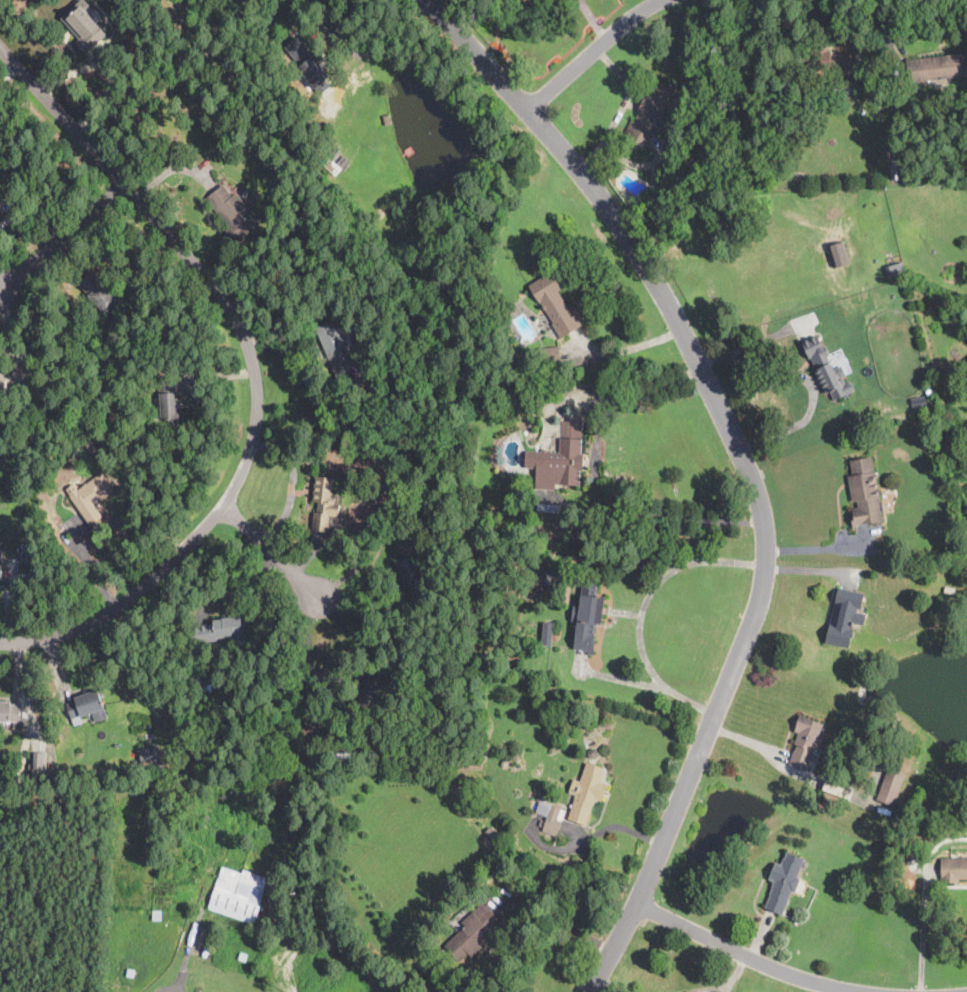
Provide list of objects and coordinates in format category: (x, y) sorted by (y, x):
building: (84, 26)
road: (379, 41)
road: (594, 53)
road: (476, 55)
building: (825, 60)
building: (937, 67)
building: (308, 68)
building: (372, 86)
road: (621, 111)
building: (650, 114)
building: (389, 119)
building: (796, 134)
building: (335, 162)
building: (674, 166)
building: (233, 212)
building: (1, 216)
road: (66, 235)
building: (839, 254)
building: (893, 271)
building: (96, 293)
building: (554, 304)
building: (512, 307)
road: (751, 345)
road: (626, 347)
building: (338, 349)
building: (548, 354)
building: (827, 369)
road: (256, 372)
building: (24, 375)
building: (1, 382)
building: (501, 387)
road: (813, 391)
building: (168, 399)
building: (91, 447)
building: (559, 460)
road: (292, 485)
road: (599, 487)
building: (864, 493)
building: (91, 496)
building: (324, 503)
road: (765, 536)
road: (817, 547)
road: (271, 555)
building: (0, 571)
building: (545, 575)
building: (409, 581)
road: (658, 581)
building: (949, 590)
building: (588, 616)
building: (845, 618)
building: (217, 631)
building: (547, 632)
building: (206, 681)
road: (652, 684)
building: (368, 693)
building: (83, 705)
building: (9, 714)
building: (804, 742)
building: (343, 753)
building: (592, 753)
building: (153, 755)
building: (38, 760)
building: (505, 762)
building: (439, 783)
building: (890, 786)
building: (838, 790)
building: (586, 793)
building: (549, 818)
road: (616, 826)
building: (805, 864)
building: (953, 869)
building: (783, 882)
building: (287, 890)
building: (237, 895)
building: (157, 913)
road: (558, 921)
road: (922, 930)
building: (472, 933)
road: (748, 955)
road: (727, 983)
road: (172, 986)
road: (609, 987)
road: (819, 987)

